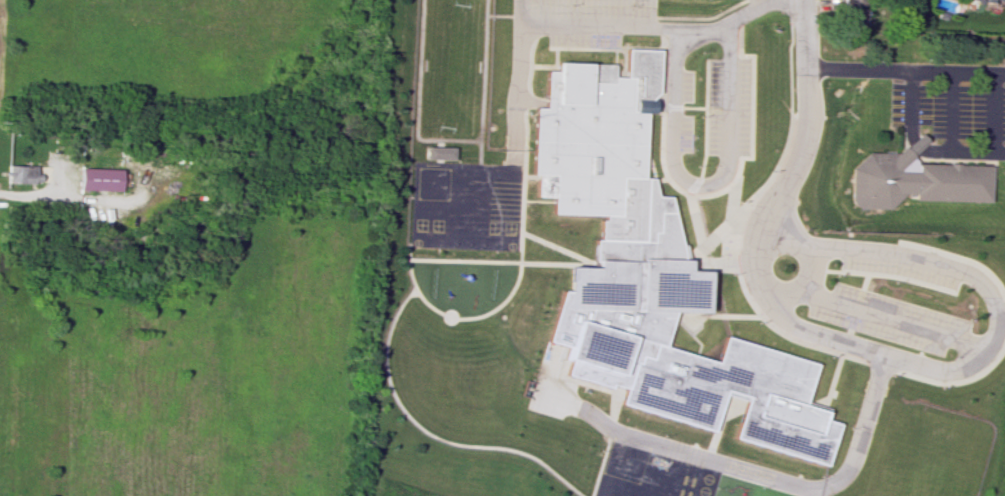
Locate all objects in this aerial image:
building: (999, 0)
building: (986, 1)
parking lot: (585, 9)
building: (852, 12)
road: (731, 19)
road: (585, 29)
road: (702, 30)
parking lot: (582, 40)
road: (805, 47)
road: (604, 48)
road: (554, 55)
road: (614, 63)
road: (529, 64)
road: (541, 65)
road: (905, 69)
parking lot: (684, 85)
road: (517, 94)
parking lot: (727, 106)
road: (692, 107)
parking lot: (949, 109)
road: (950, 110)
road: (992, 112)
road: (704, 119)
parking lot: (684, 133)
road: (922, 148)
building: (439, 152)
road: (647, 154)
road: (778, 158)
building: (21, 174)
building: (102, 179)
road: (660, 179)
building: (913, 180)
road: (688, 181)
road: (721, 190)
road: (730, 199)
road: (695, 219)
road: (727, 239)
road: (557, 247)
road: (959, 258)
road: (500, 261)
road: (802, 271)
parking lot: (898, 271)
building: (646, 273)
road: (887, 275)
road: (862, 281)
road: (517, 282)
road: (872, 313)
road: (714, 315)
parking lot: (887, 318)
road: (767, 323)
road: (847, 330)
road: (916, 366)
road: (833, 376)
road: (951, 381)
road: (616, 402)
road: (722, 423)
road: (430, 434)
road: (666, 446)
road: (859, 446)
park: (933, 454)
road: (602, 467)

